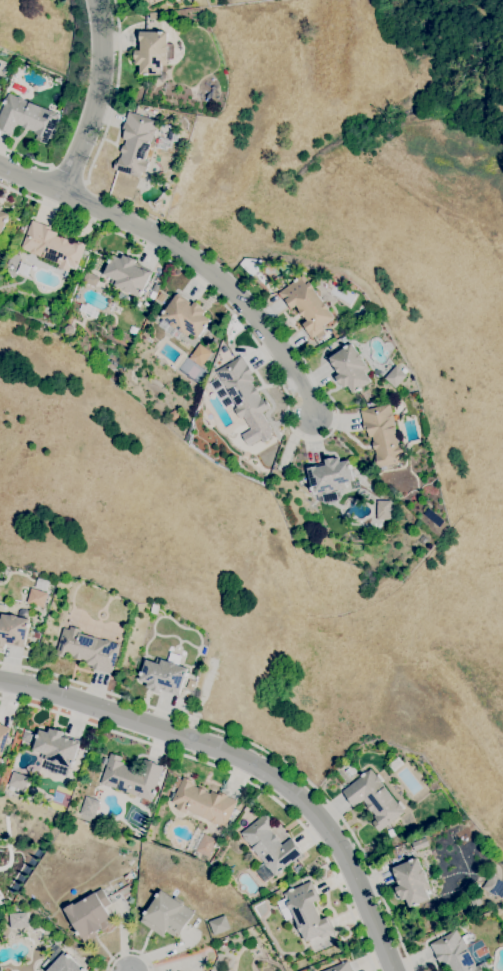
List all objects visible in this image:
building: (148, 1)
building: (154, 15)
building: (152, 52)
road: (114, 93)
road: (96, 98)
building: (27, 117)
building: (135, 144)
road: (24, 155)
road: (67, 174)
building: (3, 219)
building: (21, 229)
building: (52, 246)
road: (186, 254)
building: (127, 274)
building: (153, 295)
building: (307, 306)
building: (185, 316)
building: (199, 355)
road: (264, 355)
building: (350, 368)
building: (396, 376)
building: (242, 388)
building: (221, 393)
building: (383, 435)
building: (329, 477)
building: (299, 482)
building: (382, 509)
building: (42, 585)
building: (36, 597)
building: (155, 609)
building: (13, 629)
building: (36, 635)
building: (87, 649)
building: (164, 674)
building: (191, 685)
building: (3, 737)
building: (56, 750)
road: (260, 750)
building: (396, 764)
road: (246, 767)
road: (234, 775)
building: (132, 777)
building: (18, 780)
building: (374, 798)
building: (203, 802)
building: (89, 806)
building: (390, 832)
building: (464, 835)
building: (420, 843)
building: (205, 844)
building: (270, 845)
building: (298, 868)
building: (127, 878)
building: (411, 882)
building: (493, 885)
building: (475, 900)
building: (305, 911)
building: (90, 915)
building: (167, 915)
building: (18, 920)
building: (219, 925)
building: (467, 938)
building: (223, 943)
building: (251, 943)
road: (129, 950)
building: (455, 953)
building: (60, 961)
building: (341, 967)

